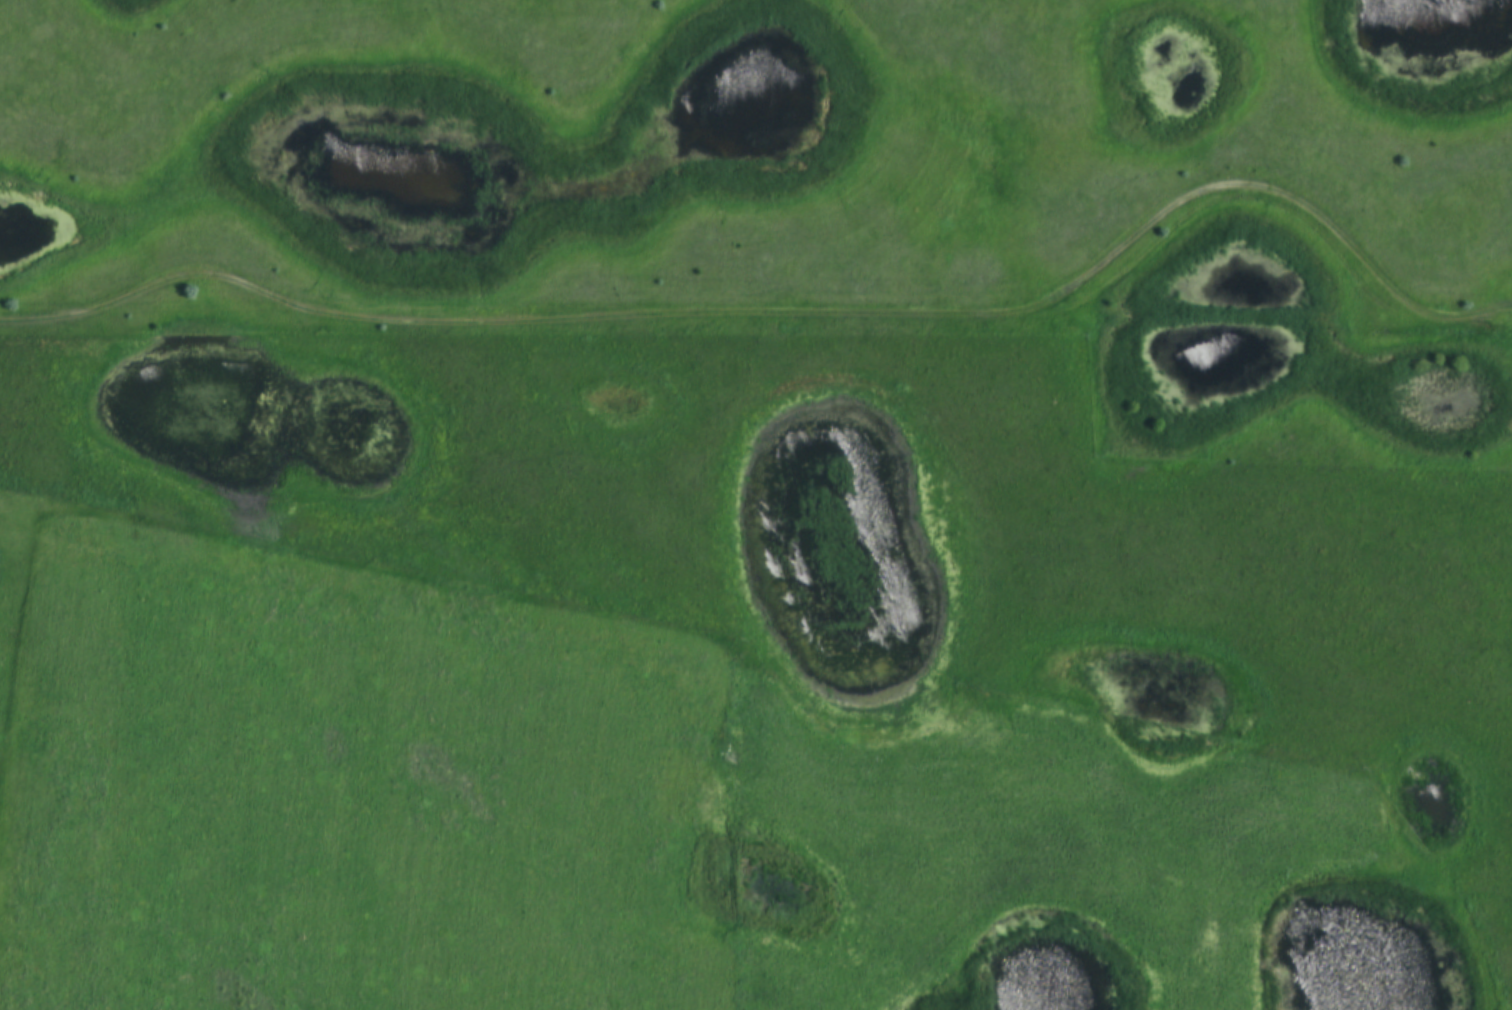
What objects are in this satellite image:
road: (798, 316)

